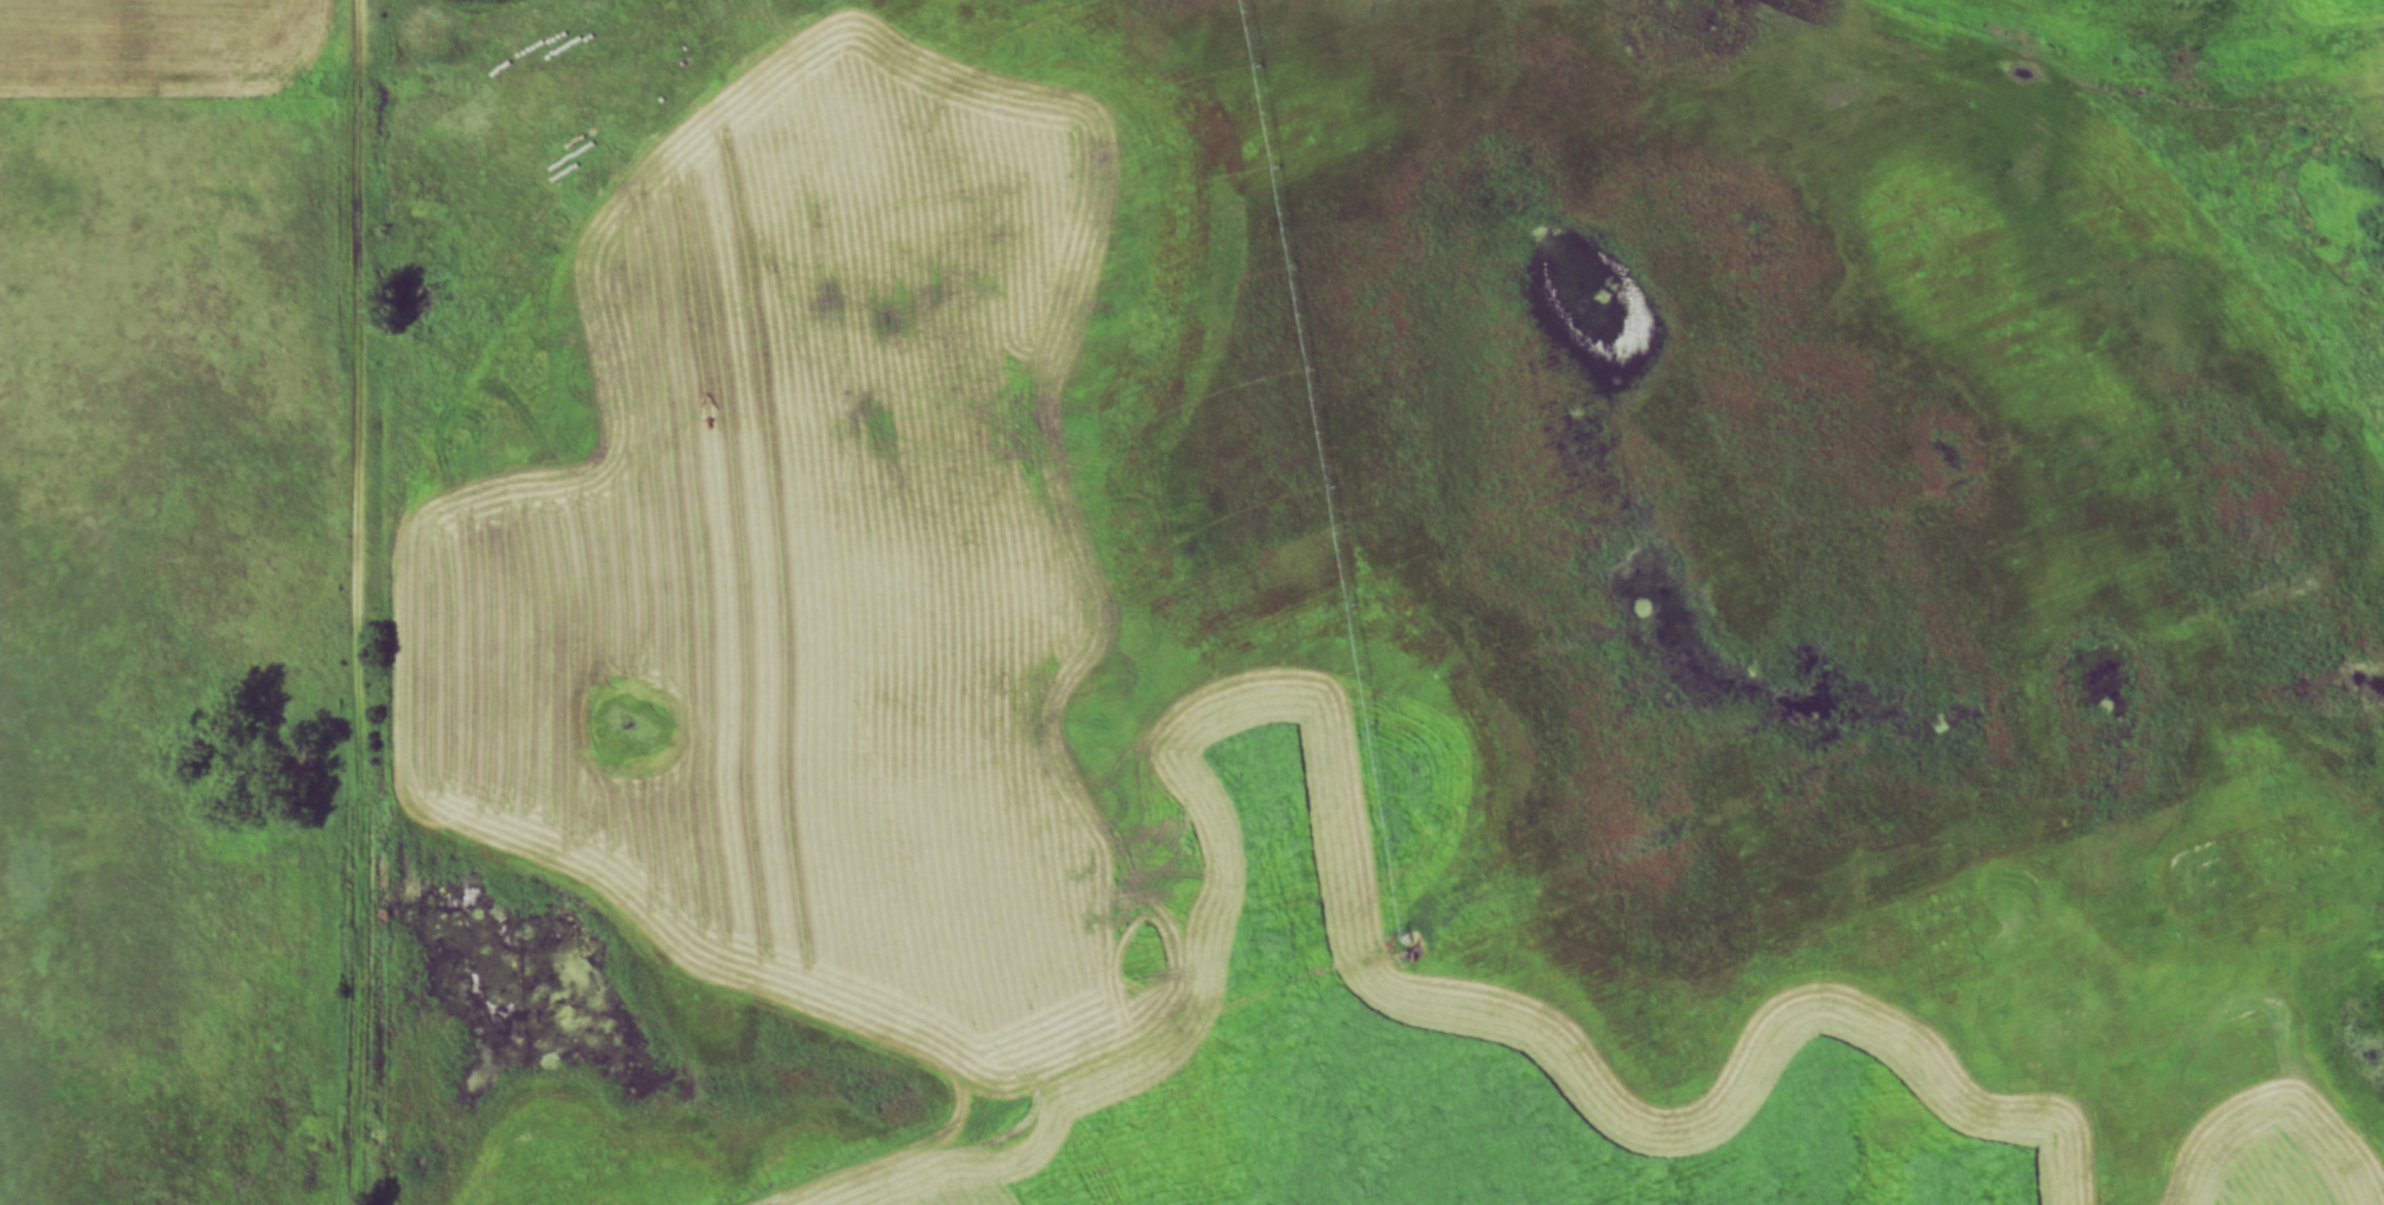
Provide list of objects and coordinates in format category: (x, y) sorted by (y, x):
road: (358, 602)

